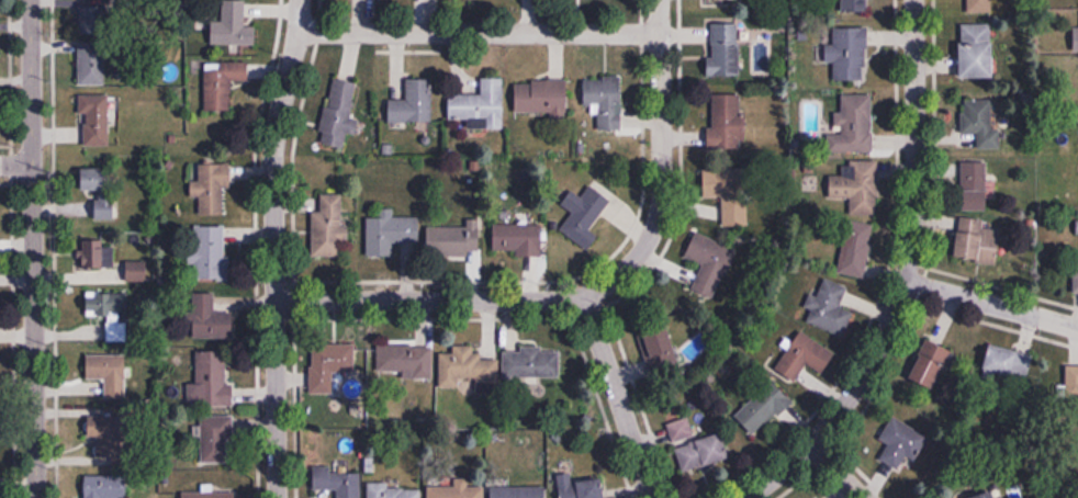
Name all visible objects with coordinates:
building: (855, 7)
building: (976, 7)
building: (92, 19)
building: (233, 26)
road: (480, 31)
building: (1076, 39)
building: (725, 49)
building: (977, 52)
building: (849, 54)
building: (91, 64)
building: (222, 83)
building: (542, 98)
building: (605, 101)
building: (414, 103)
building: (481, 105)
building: (339, 107)
building: (96, 120)
building: (981, 122)
building: (727, 123)
building: (853, 124)
road: (16, 165)
building: (857, 185)
building: (973, 186)
building: (212, 188)
building: (101, 190)
building: (734, 210)
building: (591, 214)
building: (1077, 228)
building: (329, 229)
building: (390, 233)
building: (454, 239)
building: (517, 239)
building: (974, 241)
road: (273, 247)
road: (34, 248)
building: (855, 250)
building: (207, 252)
building: (99, 253)
building: (708, 263)
road: (903, 278)
building: (1076, 282)
road: (592, 291)
road: (990, 304)
building: (829, 307)
building: (110, 309)
building: (207, 319)
building: (661, 349)
building: (805, 355)
building: (332, 358)
building: (404, 362)
building: (1008, 362)
building: (531, 363)
building: (931, 364)
building: (465, 366)
building: (112, 375)
building: (211, 381)
building: (1069, 384)
road: (617, 397)
building: (763, 407)
building: (680, 429)
building: (216, 439)
building: (900, 443)
building: (703, 452)
road: (834, 472)
building: (338, 483)
building: (105, 486)
building: (580, 487)
building: (391, 491)
building: (456, 491)
building: (518, 491)
building: (210, 494)
building: (986, 495)

